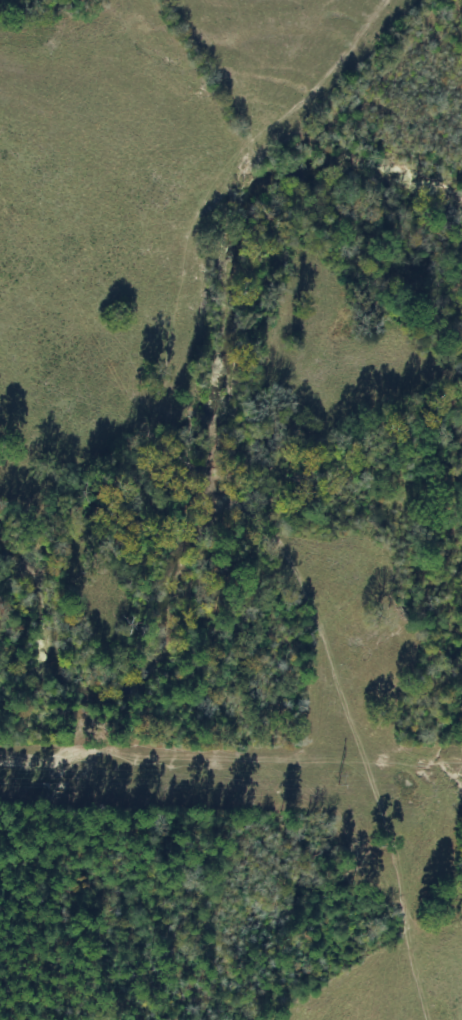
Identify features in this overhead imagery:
power tower: (331, 778)

